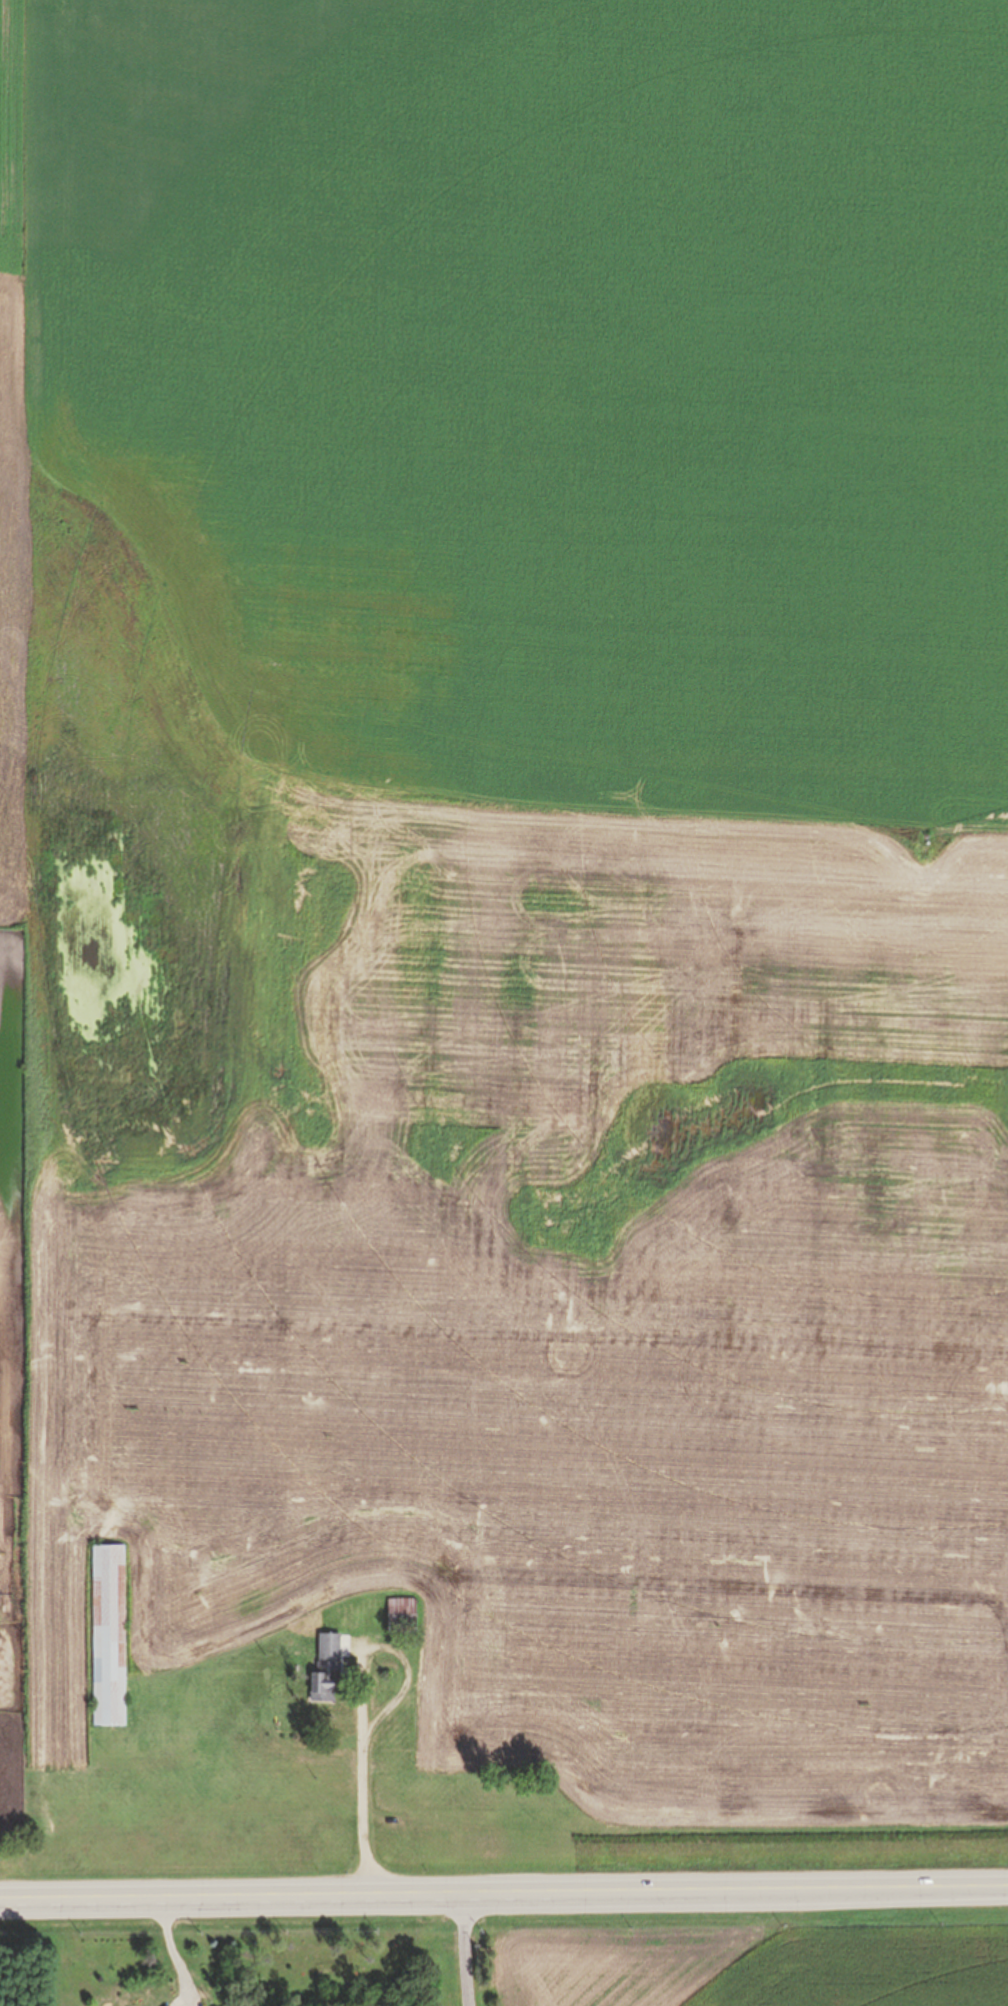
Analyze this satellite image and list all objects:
building: (0, 1540)
building: (349, 1584)
building: (402, 1617)
building: (110, 1636)
building: (327, 1669)
road: (504, 1891)
road: (460, 1949)

